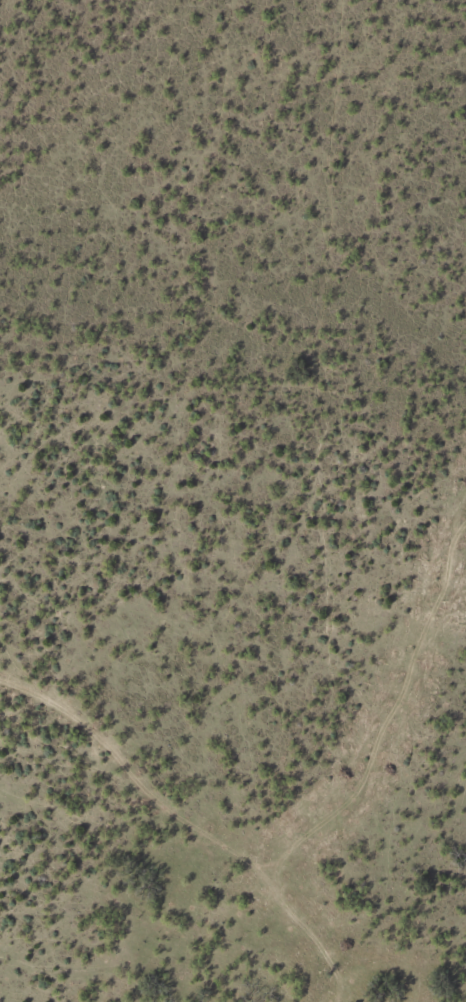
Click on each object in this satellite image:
road: (62, 762)
road: (249, 891)

